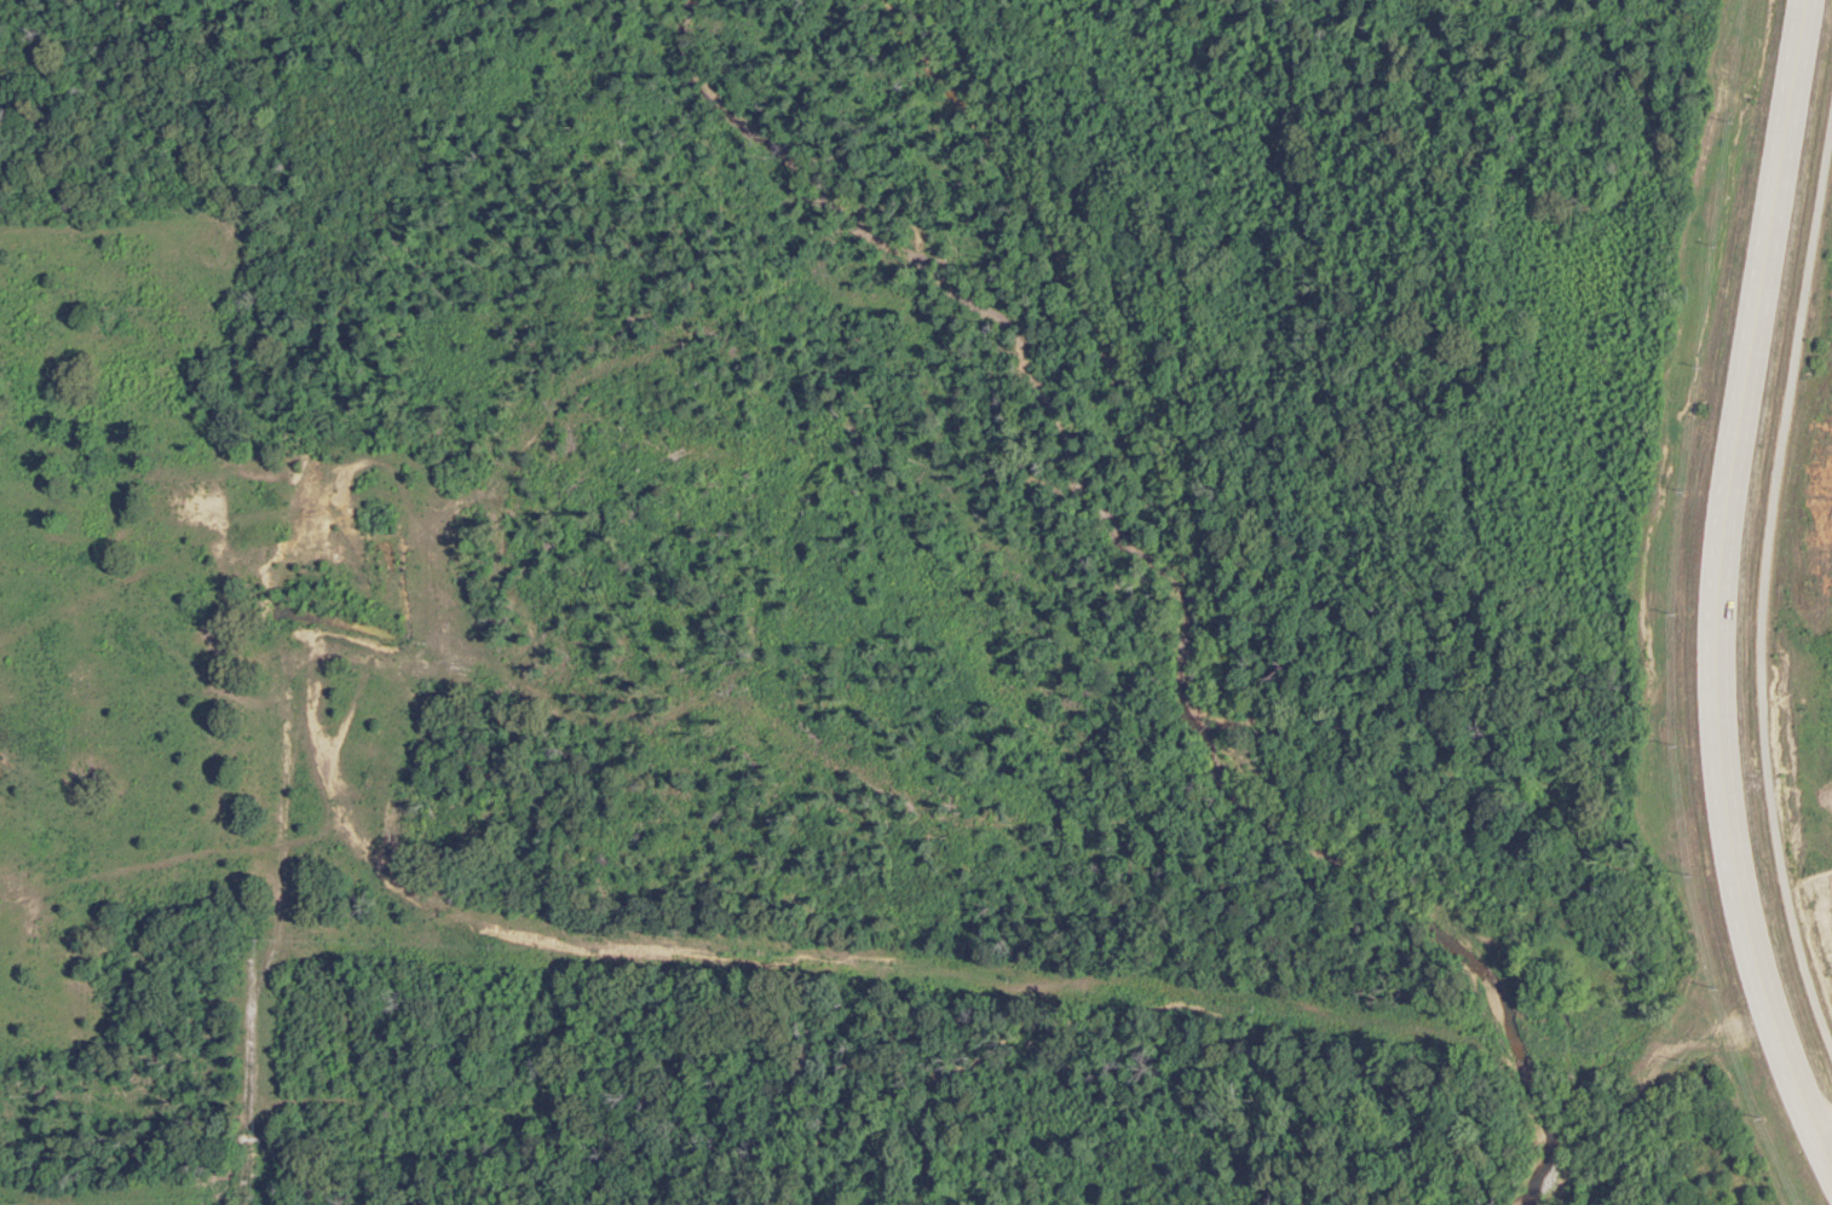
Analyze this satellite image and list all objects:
road: (1716, 589)
road: (417, 1111)

